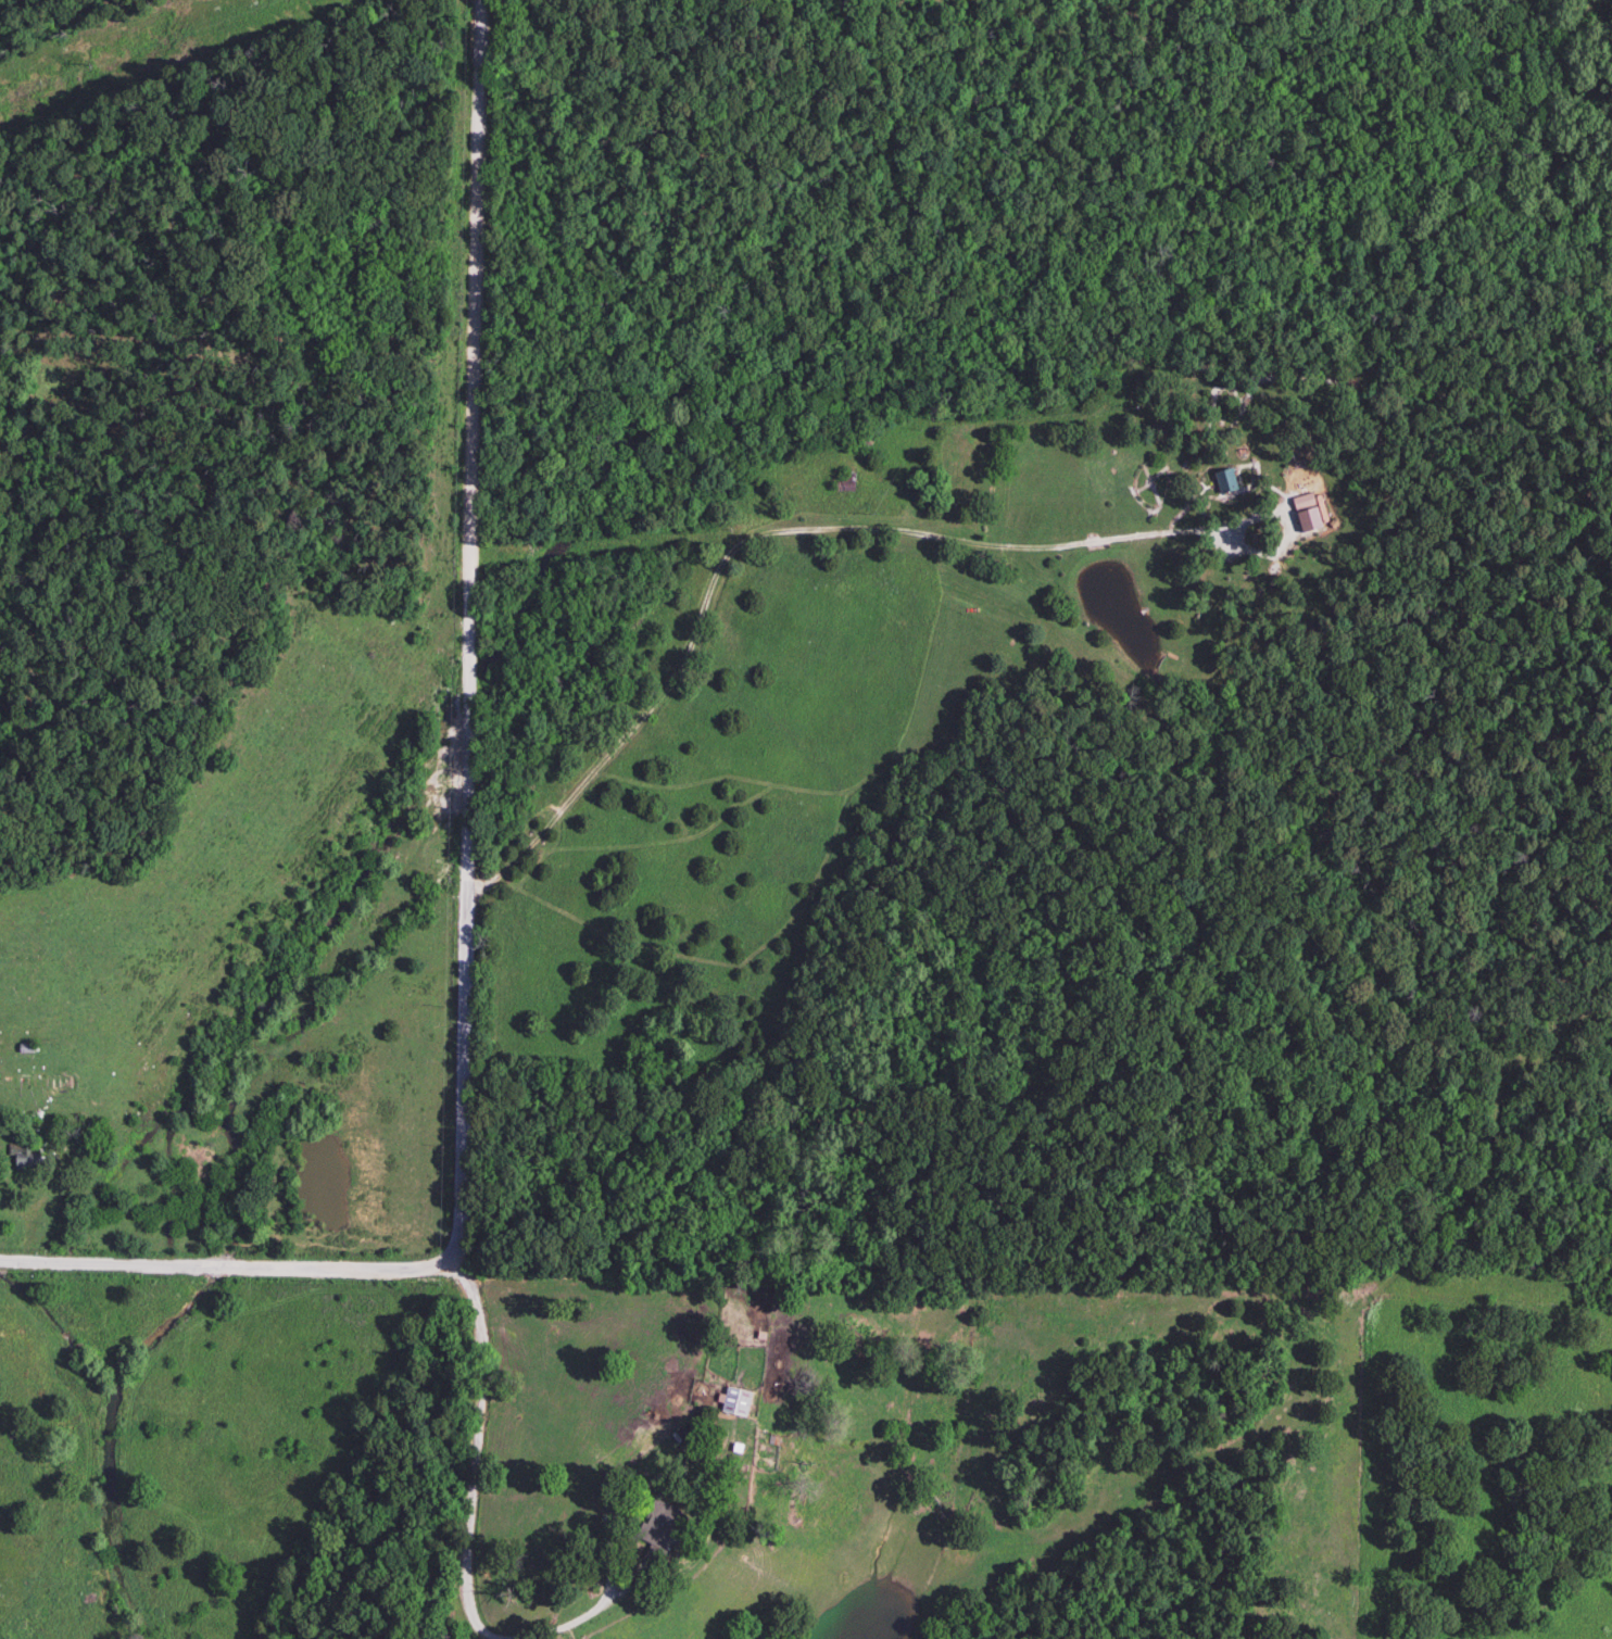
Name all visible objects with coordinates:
power tower: (84, 65)
building: (1310, 505)
road: (758, 541)
road: (464, 631)
building: (41, 1084)
building: (17, 1159)
road: (230, 1263)
building: (733, 1403)
building: (654, 1525)
road: (470, 1535)

